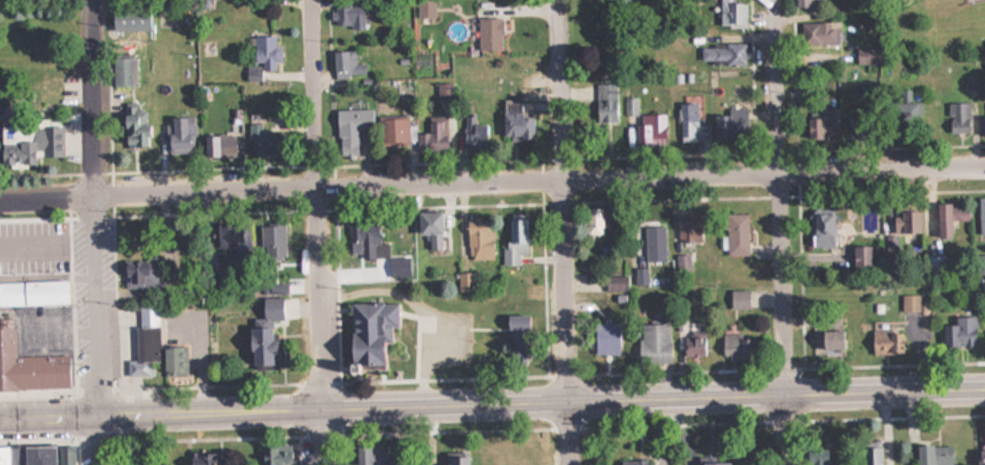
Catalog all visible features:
building: (805, 2)
building: (731, 13)
building: (347, 16)
building: (135, 20)
building: (820, 32)
building: (488, 33)
road: (323, 41)
building: (264, 50)
building: (721, 53)
building: (347, 63)
building: (124, 72)
building: (443, 91)
building: (604, 102)
building: (632, 106)
building: (906, 107)
building: (957, 116)
building: (832, 118)
building: (515, 121)
building: (691, 124)
building: (732, 124)
building: (981, 125)
building: (652, 126)
building: (132, 128)
building: (350, 130)
building: (394, 131)
building: (178, 134)
building: (266, 135)
building: (473, 135)
building: (437, 138)
building: (31, 145)
building: (217, 145)
road: (492, 176)
building: (949, 215)
building: (981, 215)
building: (593, 221)
building: (429, 227)
building: (819, 229)
building: (900, 230)
building: (688, 231)
road: (93, 232)
road: (319, 232)
road: (560, 232)
road: (782, 232)
building: (735, 234)
building: (365, 239)
building: (478, 239)
building: (514, 239)
building: (230, 241)
building: (273, 241)
building: (654, 243)
building: (10, 253)
building: (859, 255)
building: (683, 261)
building: (935, 265)
building: (139, 273)
building: (464, 281)
building: (612, 283)
building: (274, 288)
building: (513, 292)
building: (32, 293)
park: (206, 296)
building: (738, 298)
building: (909, 302)
building: (270, 307)
building: (515, 322)
building: (366, 331)
building: (958, 332)
building: (919, 336)
building: (826, 340)
building: (883, 341)
building: (653, 343)
building: (152, 345)
building: (692, 345)
building: (256, 346)
building: (736, 347)
building: (32, 362)
road: (492, 402)
building: (933, 454)
building: (37, 455)
building: (275, 455)
building: (370, 455)
building: (868, 455)
building: (817, 456)
building: (980, 456)
building: (199, 459)
building: (456, 459)
building: (632, 461)
building: (710, 463)

